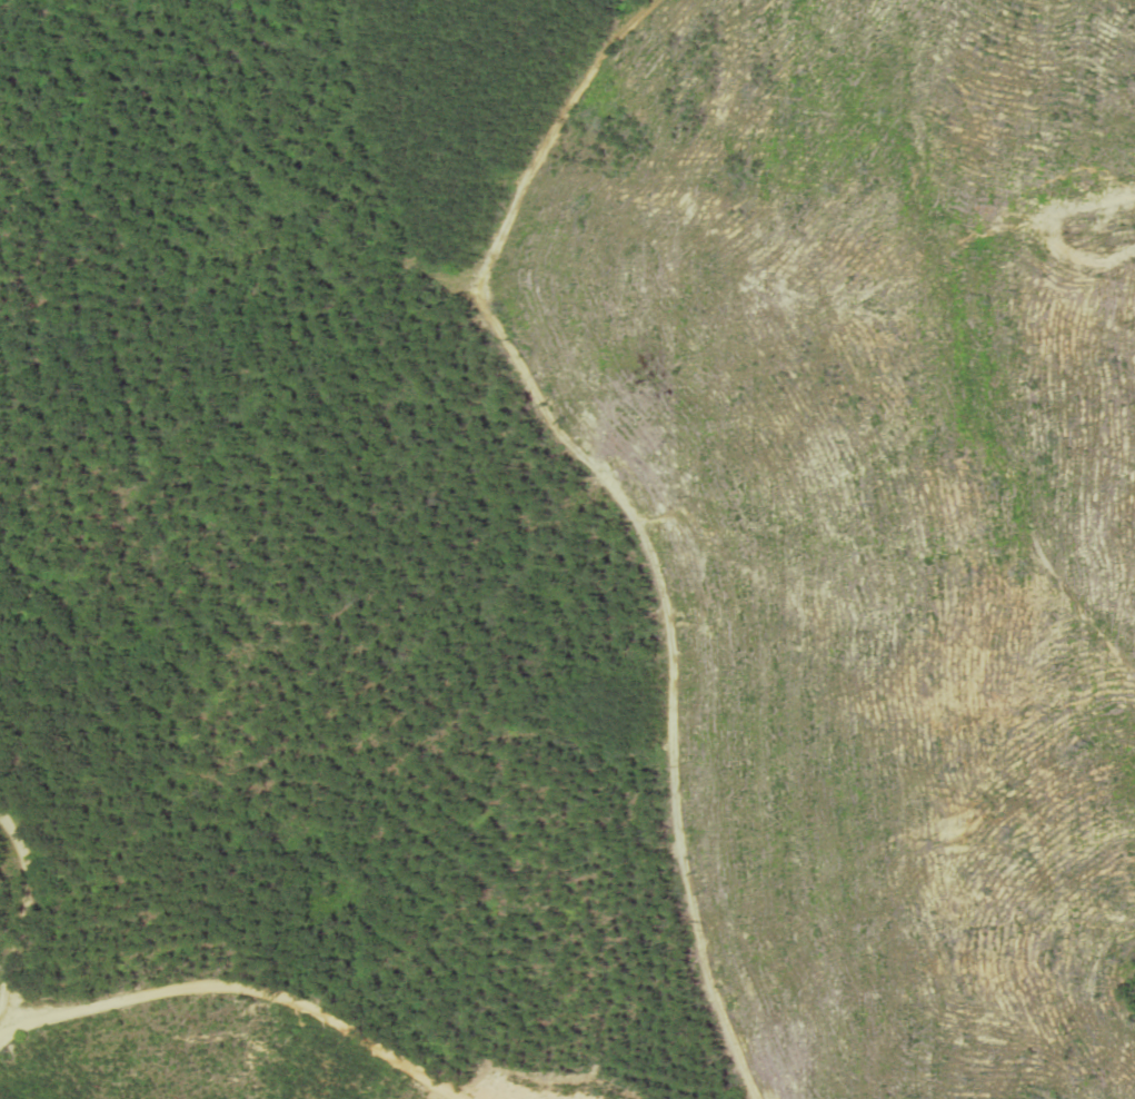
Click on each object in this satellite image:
road: (247, 984)

